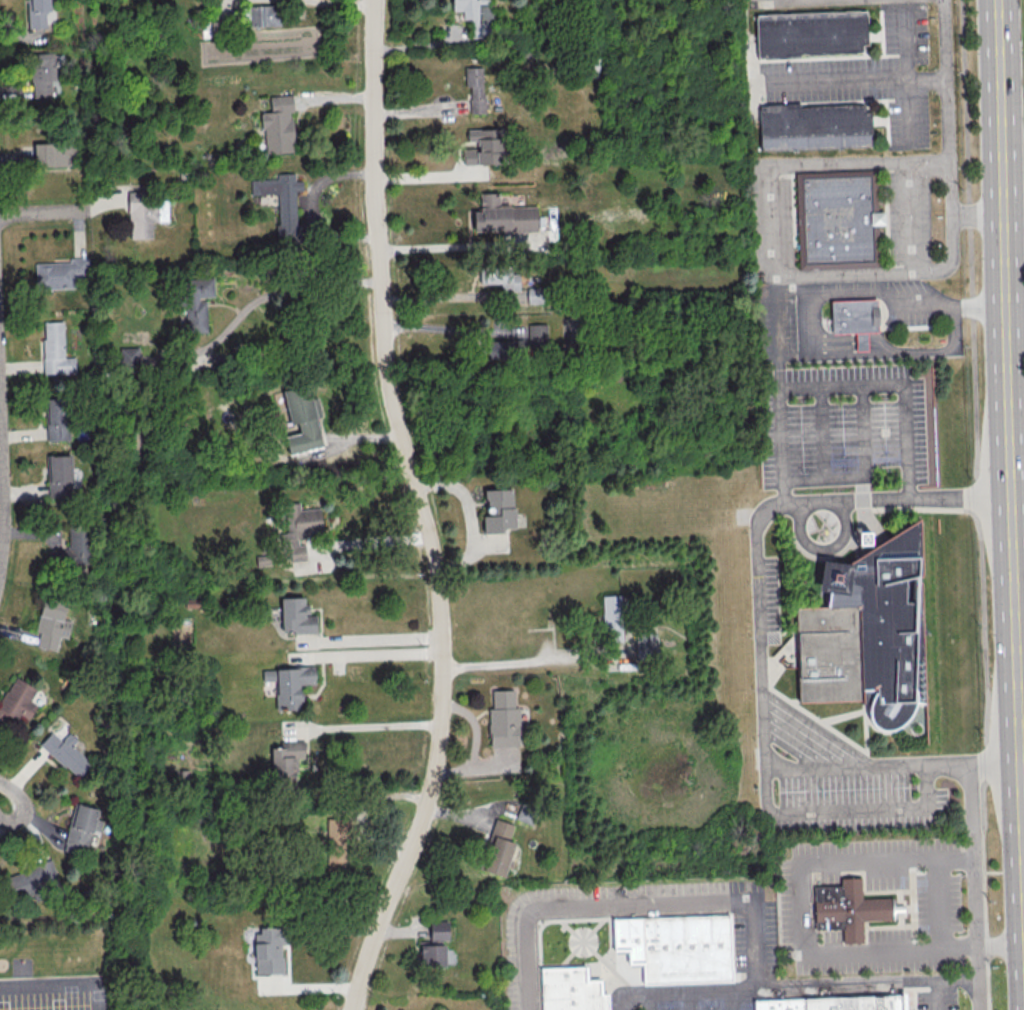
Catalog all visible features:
road: (788, 1)
building: (37, 13)
building: (475, 15)
building: (811, 34)
road: (904, 42)
building: (44, 73)
parking lot: (871, 77)
road: (926, 77)
road: (836, 81)
building: (475, 88)
road: (907, 112)
building: (278, 125)
building: (815, 127)
road: (947, 134)
building: (482, 146)
building: (55, 154)
road: (427, 172)
building: (282, 203)
road: (45, 213)
building: (144, 213)
parking lot: (910, 214)
building: (502, 216)
road: (911, 217)
building: (837, 218)
road: (453, 242)
road: (769, 244)
building: (61, 274)
building: (500, 276)
road: (308, 290)
building: (197, 302)
road: (1016, 310)
road: (777, 315)
road: (808, 315)
building: (854, 318)
road: (441, 327)
building: (537, 335)
building: (55, 349)
building: (500, 349)
building: (129, 357)
road: (778, 410)
road: (1011, 410)
building: (57, 418)
building: (301, 419)
parking lot: (839, 424)
road: (821, 433)
building: (59, 476)
road: (3, 483)
road: (907, 489)
road: (781, 491)
road: (978, 505)
road: (928, 509)
building: (498, 510)
road: (423, 511)
road: (862, 511)
road: (760, 512)
building: (299, 528)
road: (369, 541)
road: (821, 549)
building: (72, 550)
parking lot: (764, 599)
building: (295, 615)
building: (612, 617)
building: (51, 625)
building: (866, 630)
road: (775, 632)
road: (372, 641)
road: (778, 654)
road: (369, 656)
road: (522, 663)
building: (289, 684)
road: (793, 700)
road: (804, 711)
road: (1022, 711)
road: (842, 716)
building: (503, 719)
road: (373, 726)
road: (864, 727)
road: (894, 729)
road: (804, 737)
building: (67, 753)
building: (286, 759)
road: (995, 759)
road: (948, 760)
parking lot: (836, 777)
road: (1, 802)
road: (769, 811)
building: (80, 827)
building: (336, 843)
building: (498, 848)
road: (955, 855)
building: (33, 879)
road: (972, 885)
road: (634, 903)
parking lot: (939, 907)
building: (852, 910)
road: (624, 915)
road: (533, 918)
road: (581, 940)
road: (609, 943)
parking lot: (752, 944)
building: (434, 945)
building: (675, 946)
road: (981, 948)
park: (580, 949)
building: (269, 950)
road: (802, 953)
road: (597, 955)
road: (574, 963)
road: (60, 986)
road: (792, 988)
building: (570, 989)
road: (935, 996)
road: (730, 1000)
parking lot: (935, 1000)
road: (686, 1001)
road: (648, 1002)
building: (834, 1003)
parking lot: (697, 1005)

